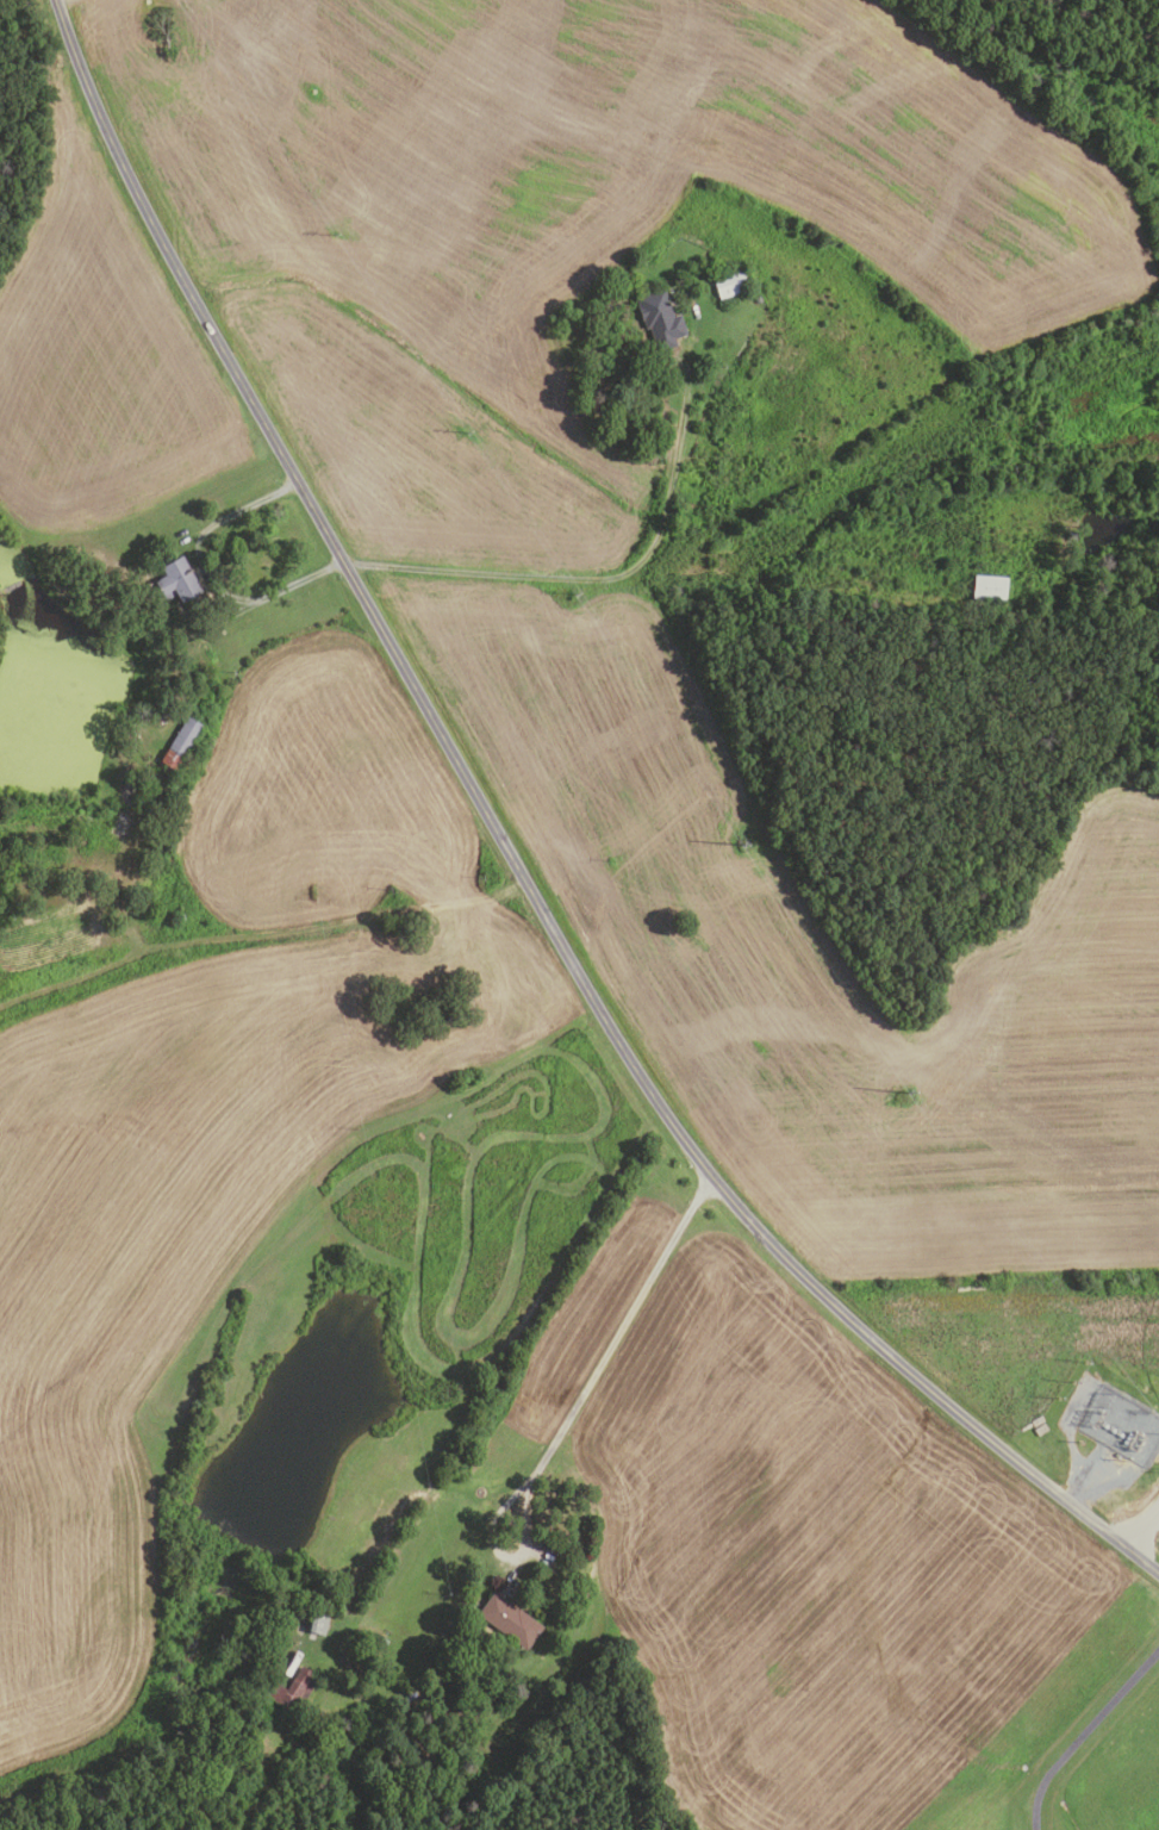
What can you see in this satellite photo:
road: (66, 2)
power tower: (337, 238)
building: (727, 282)
building: (659, 319)
power tower: (469, 429)
road: (205, 577)
road: (586, 578)
building: (179, 583)
building: (989, 589)
power tower: (575, 595)
building: (125, 635)
building: (183, 743)
power tower: (741, 848)
road: (511, 859)
road: (260, 935)
power tower: (908, 1093)
power tower: (1049, 1280)
power tower: (1086, 1359)
road: (573, 1406)
power tower: (1097, 1412)
power substation: (1121, 1424)
building: (506, 1619)
building: (314, 1624)
building: (288, 1693)
road: (1085, 1736)

